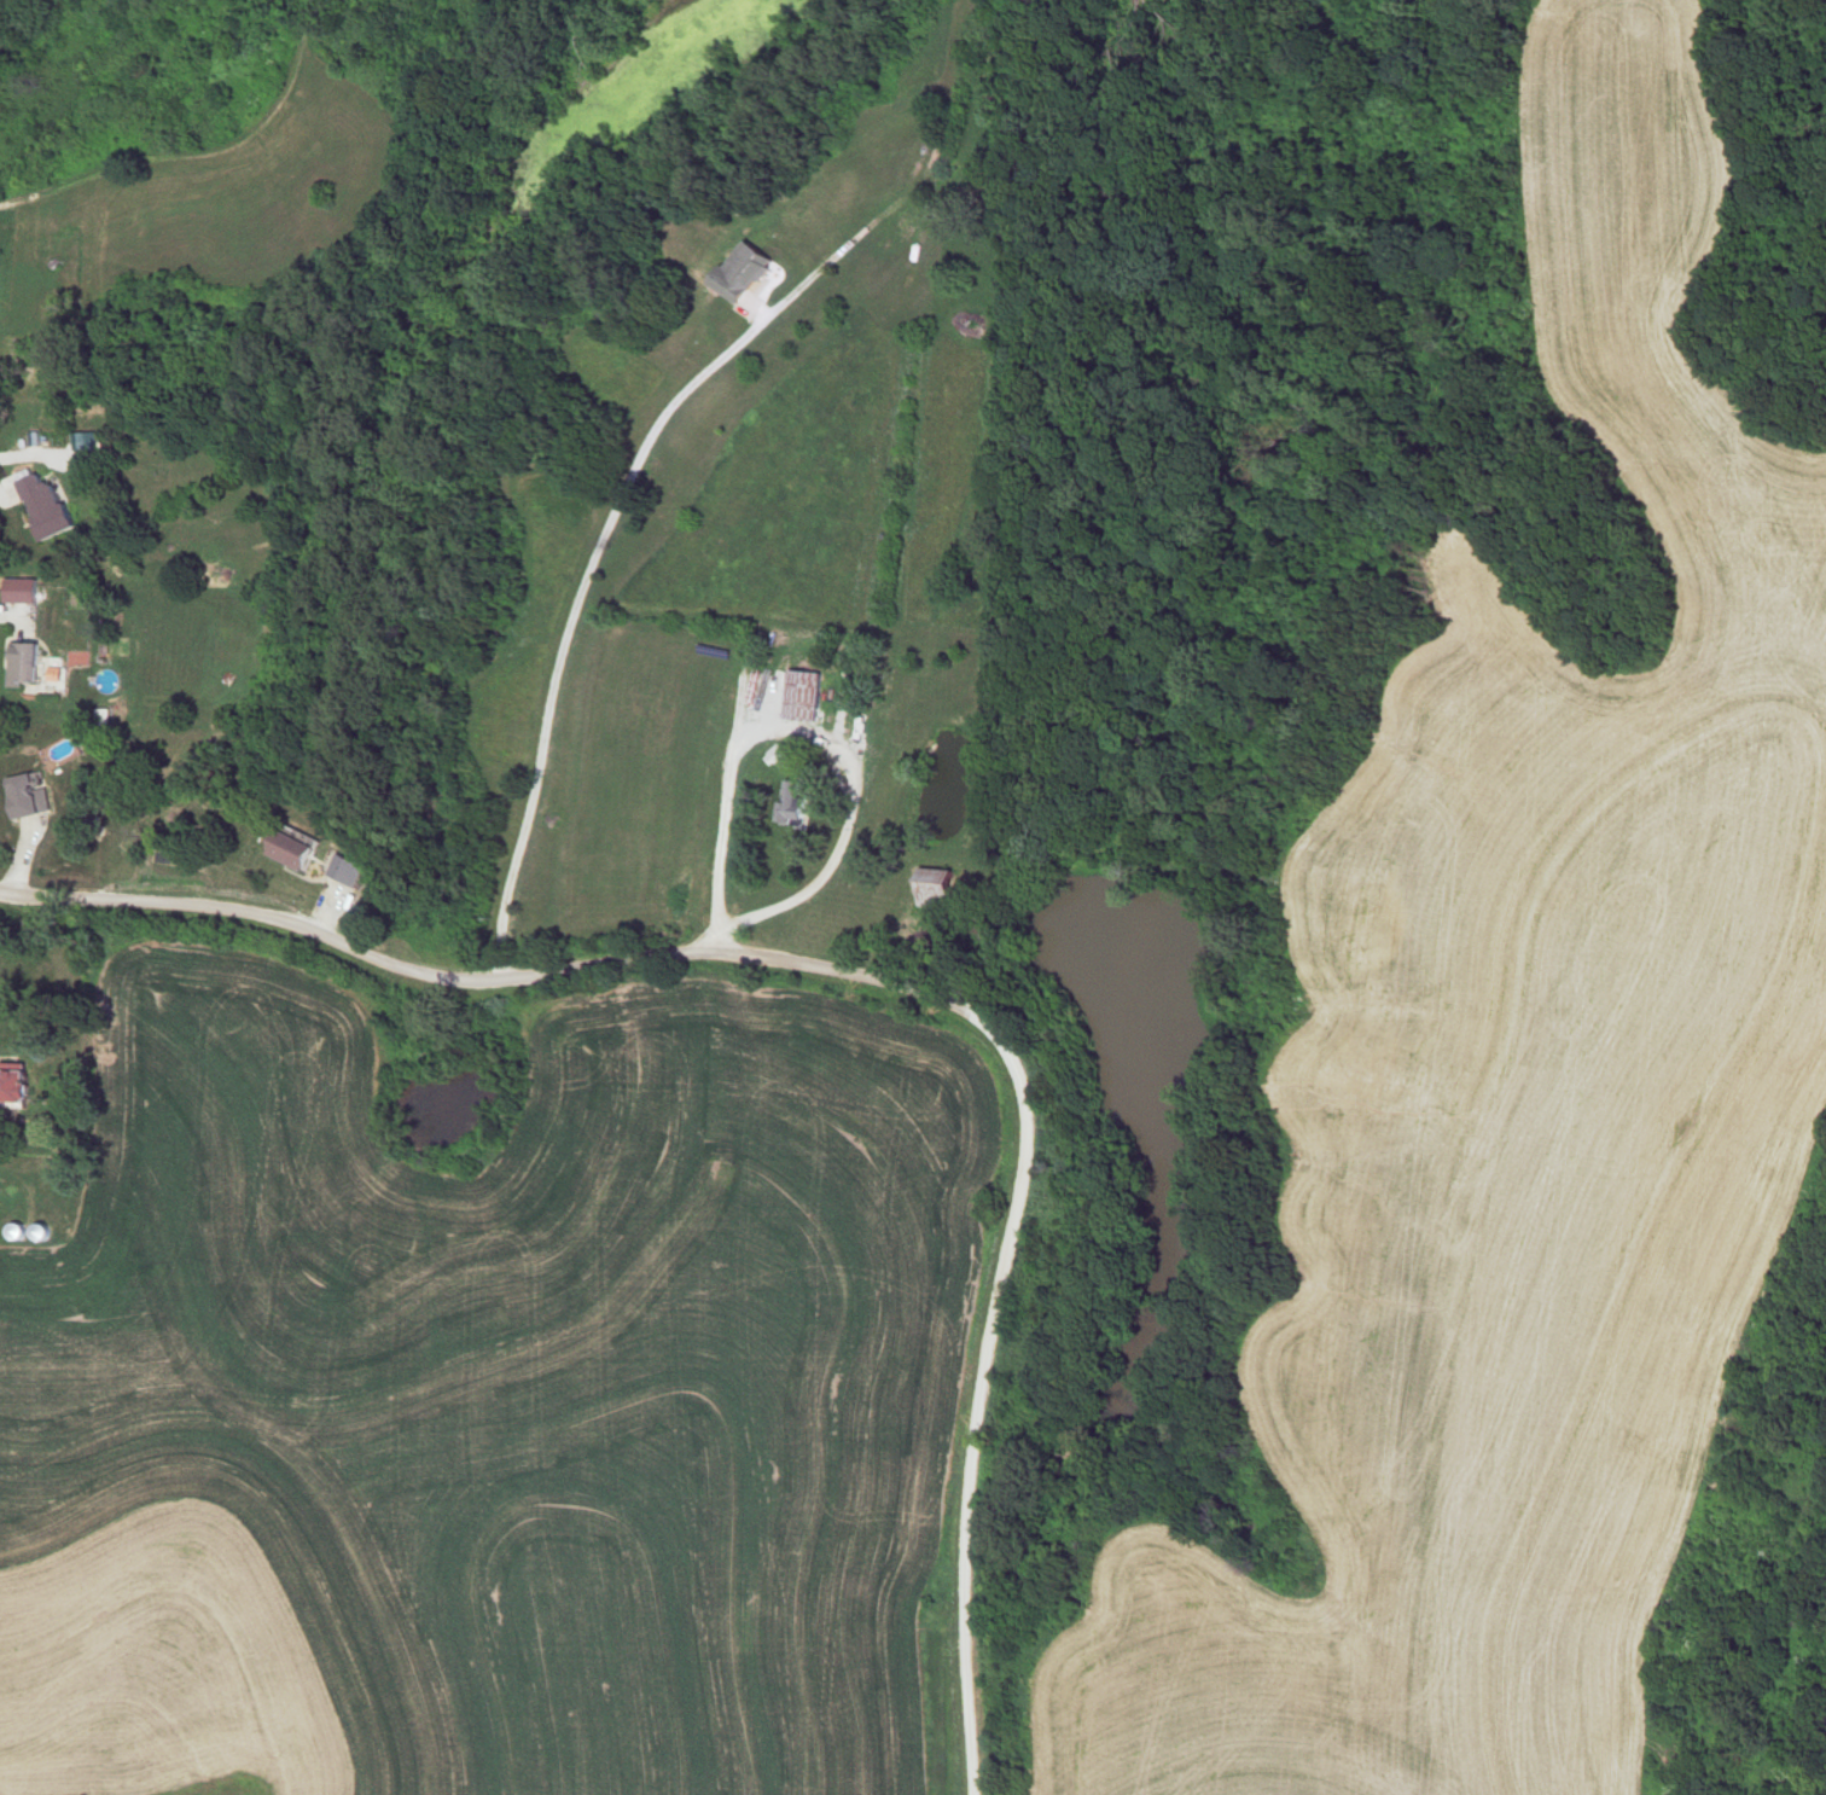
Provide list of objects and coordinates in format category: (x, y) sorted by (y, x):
road: (235, 153)
road: (36, 193)
building: (743, 272)
building: (42, 509)
building: (23, 589)
road: (578, 629)
building: (23, 662)
building: (801, 695)
building: (27, 796)
building: (795, 802)
building: (290, 849)
building: (347, 870)
road: (826, 878)
building: (937, 889)
road: (873, 984)
building: (16, 1087)
building: (19, 1231)
building: (45, 1231)

